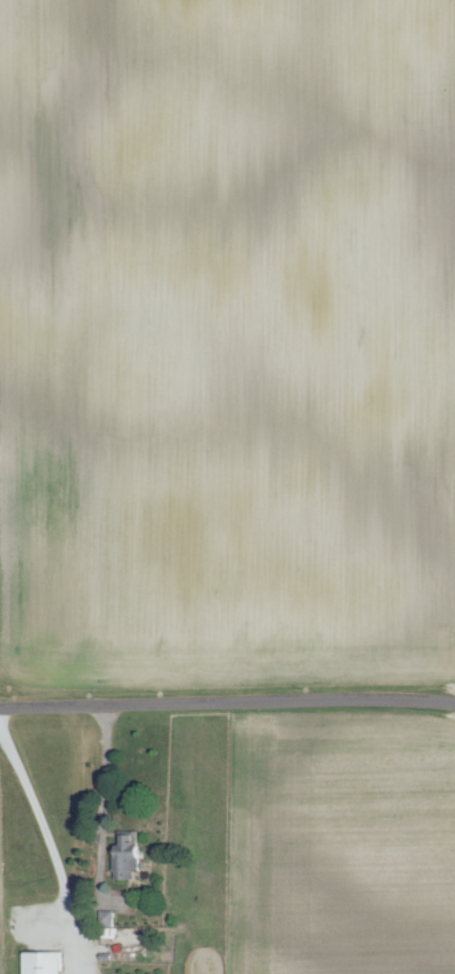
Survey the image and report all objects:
road: (227, 699)
building: (132, 856)
road: (86, 932)
road: (85, 945)
building: (46, 962)
road: (84, 964)
road: (92, 964)

